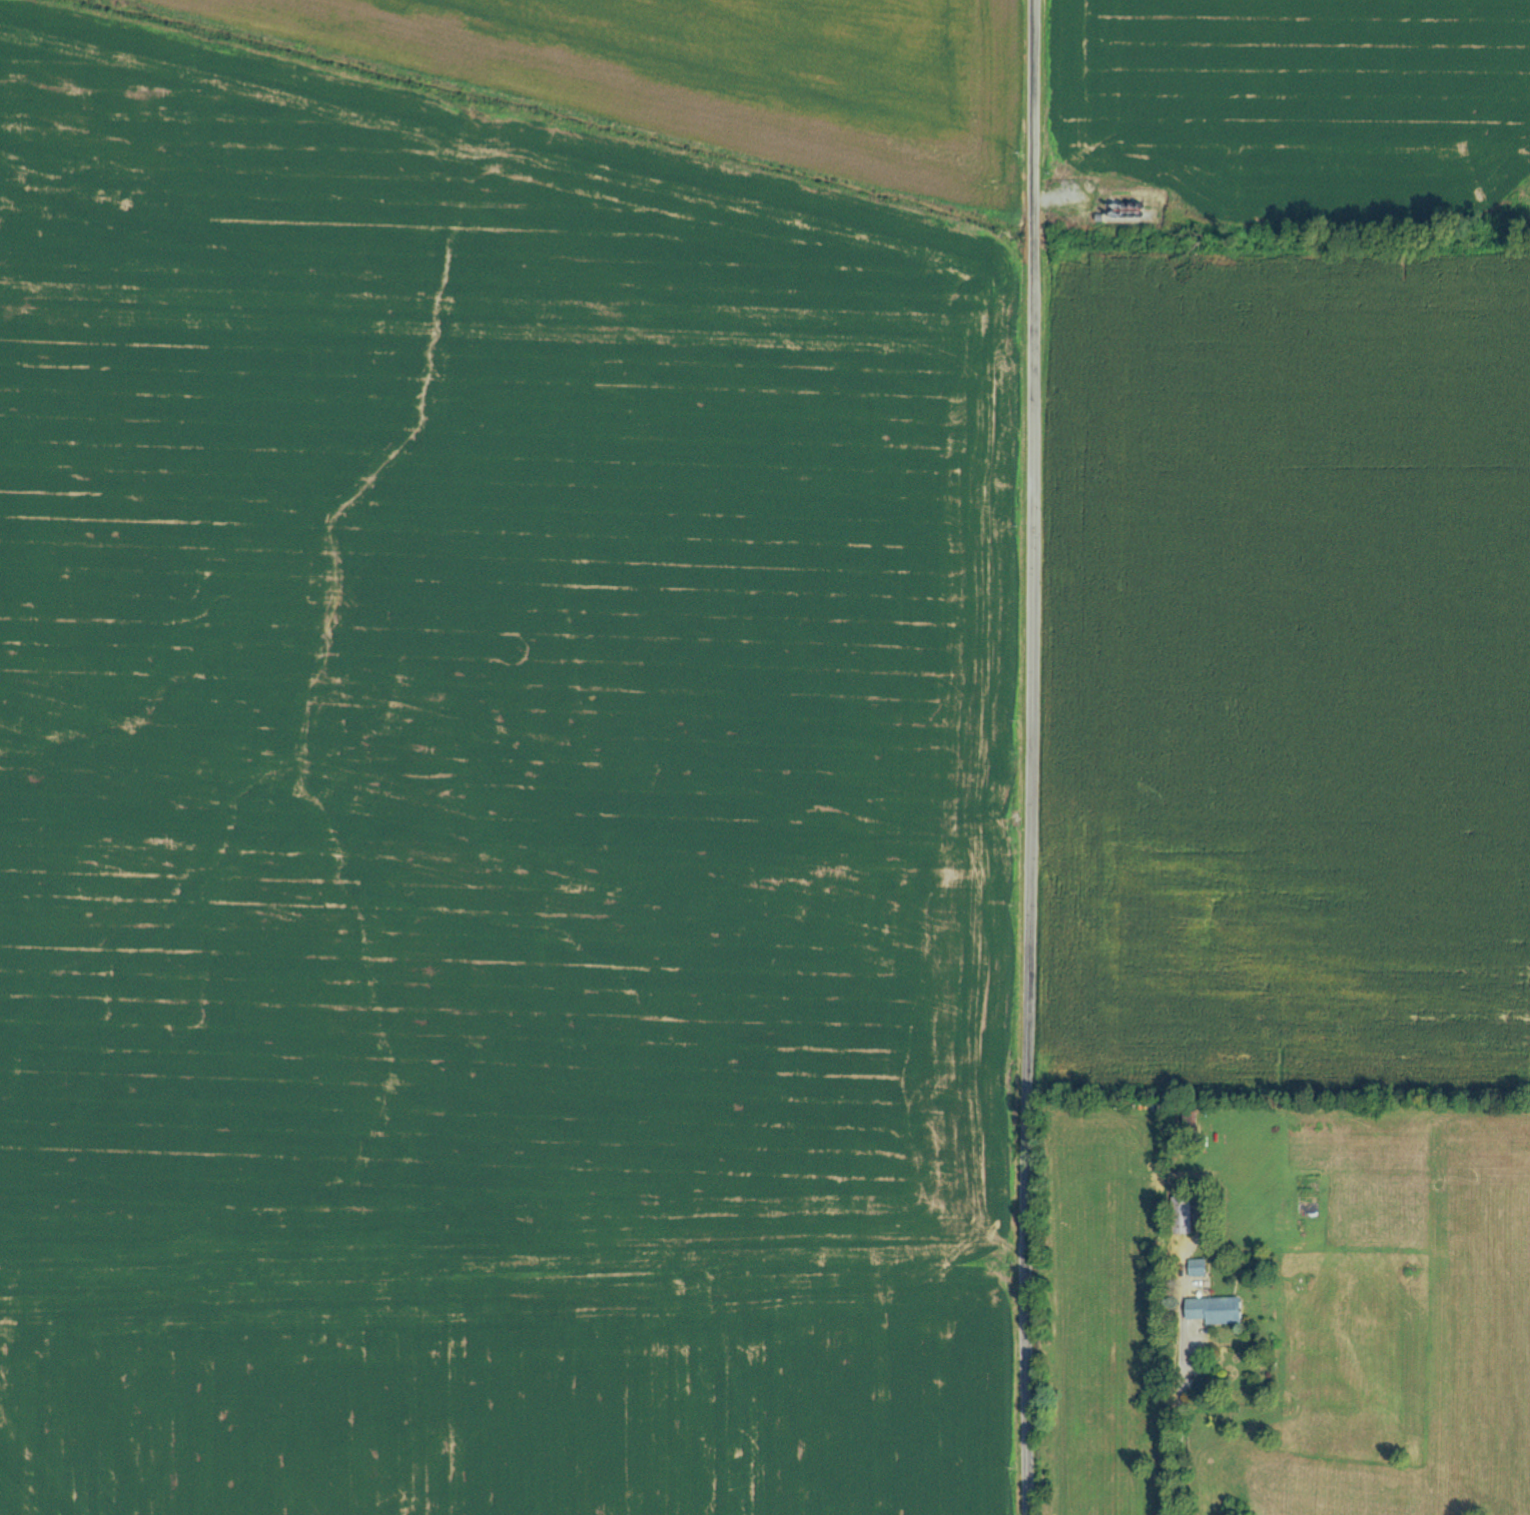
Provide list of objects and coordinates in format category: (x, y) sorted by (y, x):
road: (1029, 757)
building: (1181, 1215)
building: (1196, 1268)
building: (1213, 1311)

